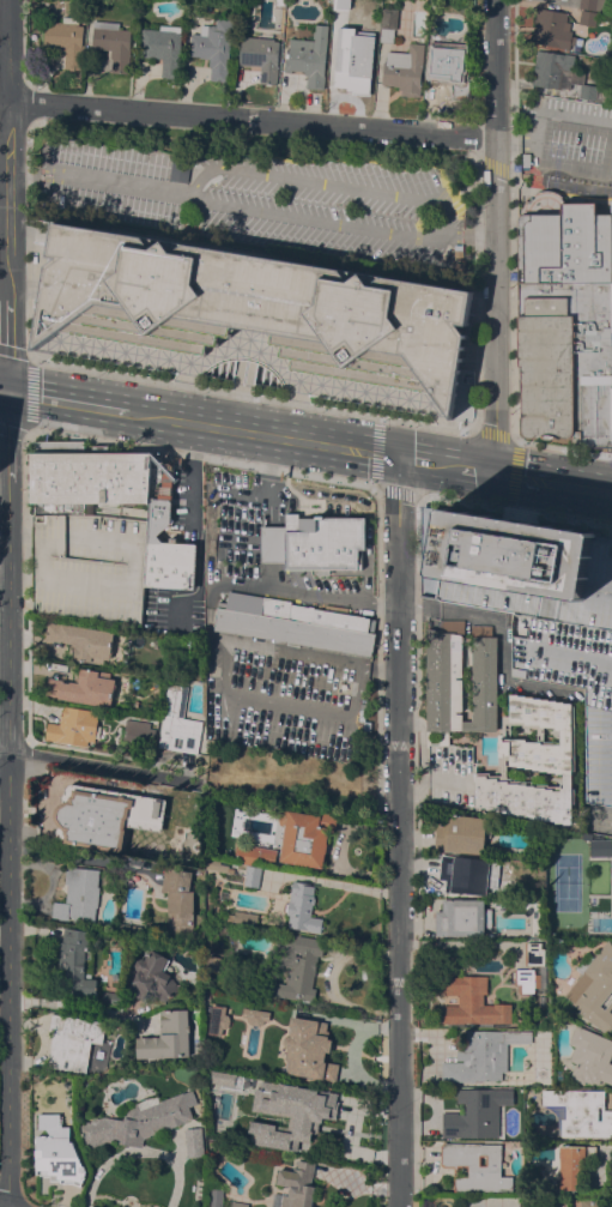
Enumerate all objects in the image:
building: (588, 4)
building: (435, 5)
building: (605, 5)
building: (589, 17)
building: (388, 23)
building: (552, 28)
building: (66, 40)
building: (114, 43)
building: (214, 46)
building: (163, 47)
building: (261, 55)
building: (309, 56)
road: (4, 60)
building: (352, 66)
building: (448, 67)
building: (405, 70)
building: (563, 74)
building: (595, 74)
building: (526, 99)
building: (563, 108)
road: (250, 119)
road: (507, 138)
road: (529, 139)
road: (8, 149)
road: (606, 150)
building: (526, 159)
building: (178, 169)
road: (323, 182)
road: (250, 209)
road: (4, 217)
road: (28, 229)
road: (495, 235)
road: (474, 282)
road: (511, 289)
building: (253, 307)
building: (566, 324)
road: (8, 344)
road: (4, 390)
traffic signals: (8, 391)
road: (29, 393)
road: (250, 396)
road: (68, 400)
road: (262, 434)
road: (7, 435)
road: (562, 446)
road: (511, 453)
road: (201, 457)
traffic signals: (398, 457)
road: (413, 459)
road: (444, 464)
road: (475, 467)
traffic signals: (492, 470)
road: (376, 475)
road: (551, 479)
building: (158, 496)
road: (25, 503)
road: (516, 509)
building: (89, 531)
road: (20, 541)
building: (315, 542)
road: (17, 578)
road: (424, 605)
building: (537, 605)
building: (295, 623)
road: (416, 638)
building: (84, 641)
building: (126, 651)
road: (377, 653)
building: (460, 680)
building: (85, 688)
building: (178, 723)
building: (74, 726)
building: (139, 732)
building: (568, 734)
road: (93, 766)
building: (504, 771)
road: (434, 778)
building: (566, 779)
building: (525, 798)
building: (104, 816)
road: (398, 831)
building: (463, 834)
building: (307, 837)
road: (11, 844)
building: (600, 844)
building: (247, 853)
road: (78, 855)
building: (218, 865)
building: (465, 874)
building: (253, 876)
building: (611, 885)
building: (79, 895)
building: (178, 899)
building: (303, 907)
building: (244, 917)
building: (462, 917)
building: (611, 923)
building: (128, 927)
building: (534, 952)
building: (75, 961)
building: (213, 962)
building: (296, 966)
building: (152, 977)
building: (526, 978)
building: (594, 988)
building: (111, 997)
building: (472, 1002)
road: (73, 1004)
building: (255, 1015)
building: (217, 1019)
building: (166, 1037)
building: (73, 1042)
building: (308, 1049)
building: (483, 1055)
building: (590, 1056)
building: (559, 1074)
building: (249, 1086)
building: (578, 1111)
building: (475, 1112)
building: (139, 1122)
building: (275, 1123)
building: (195, 1141)
building: (57, 1149)
building: (478, 1165)
building: (571, 1166)
building: (296, 1185)
building: (217, 1197)
building: (592, 1202)
building: (240, 1203)

